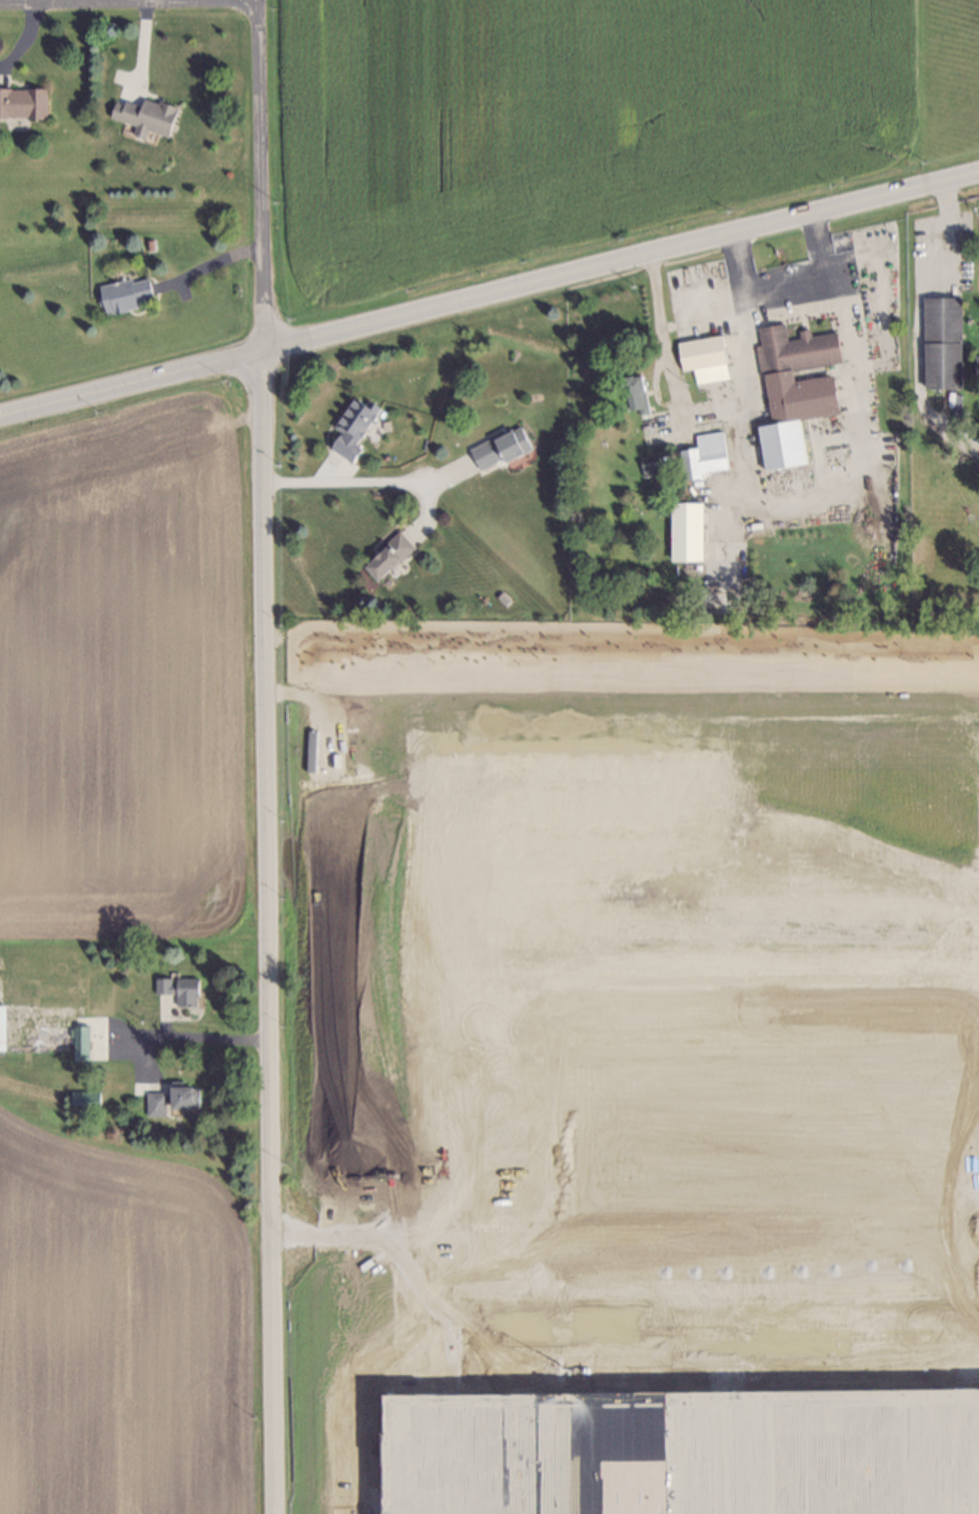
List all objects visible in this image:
building: (22, 105)
building: (143, 116)
road: (255, 176)
road: (822, 241)
road: (737, 262)
road: (204, 266)
building: (120, 292)
road: (489, 292)
road: (916, 320)
building: (941, 342)
building: (702, 357)
building: (976, 365)
building: (791, 387)
building: (635, 395)
building: (354, 429)
building: (498, 447)
building: (705, 457)
building: (652, 468)
road: (867, 476)
road: (362, 481)
building: (684, 533)
building: (386, 555)
road: (262, 933)
building: (177, 988)
building: (0, 1027)
road: (192, 1035)
building: (77, 1042)
crop: (628, 1067)
building: (180, 1094)
building: (80, 1096)
building: (153, 1102)

